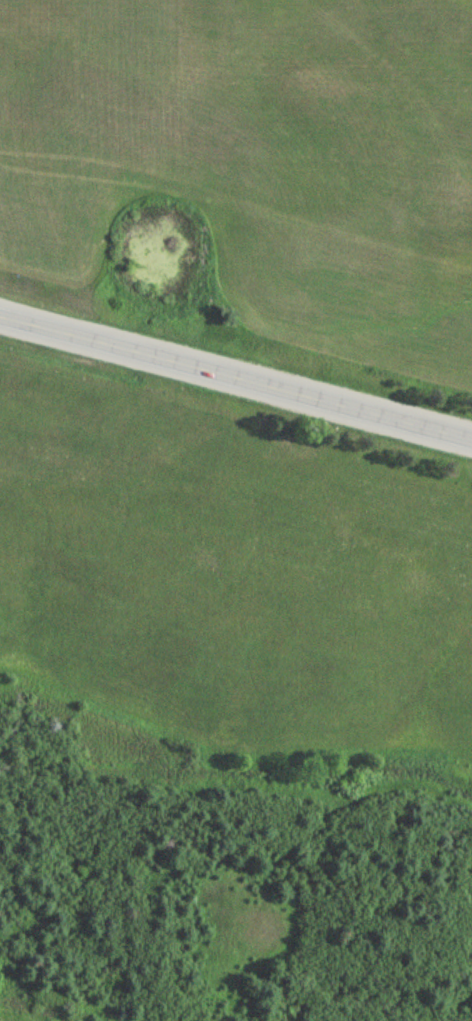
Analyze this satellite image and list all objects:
road: (236, 377)

